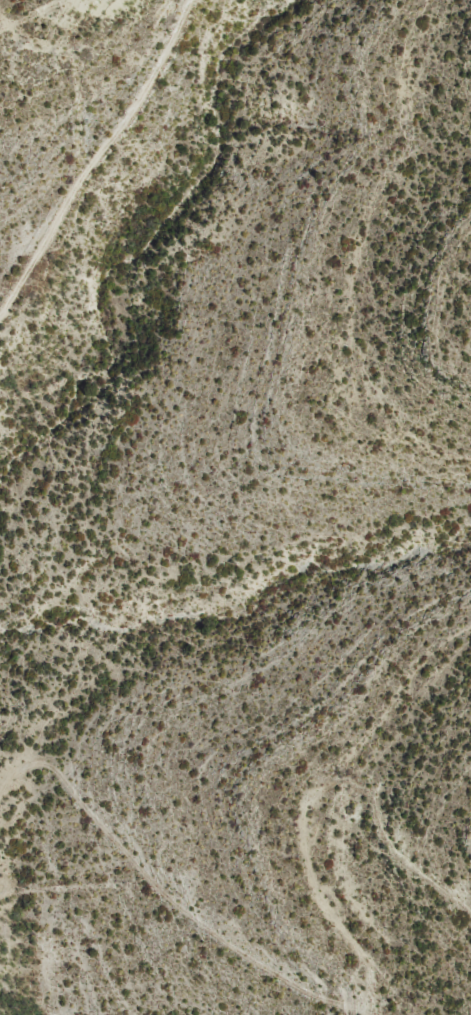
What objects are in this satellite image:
road: (118, 181)
road: (317, 972)

